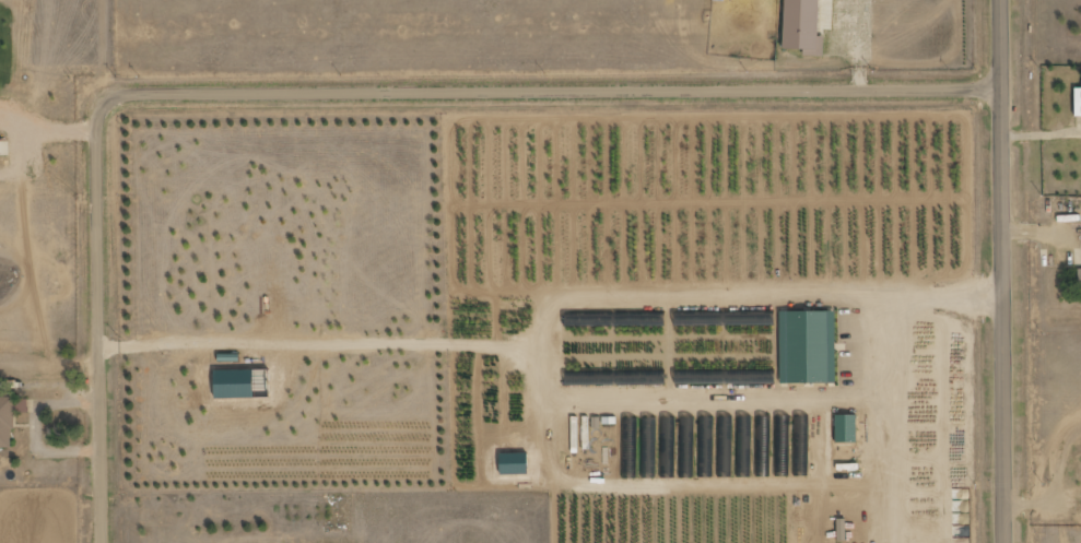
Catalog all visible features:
building: (806, 26)
road: (333, 90)
building: (1078, 102)
road: (1003, 271)
building: (1080, 278)
building: (809, 347)
building: (10, 417)
building: (847, 429)
building: (842, 529)

